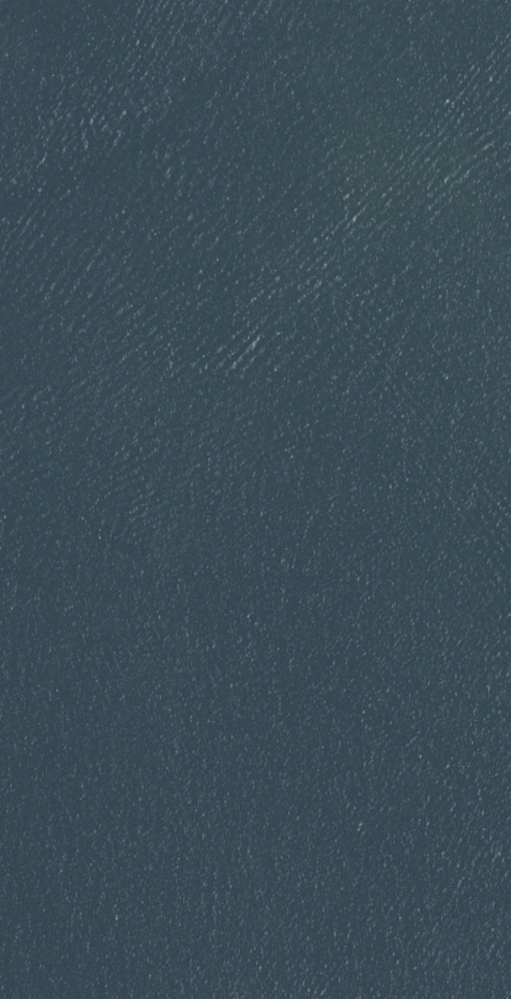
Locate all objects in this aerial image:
river: (255, 609)

